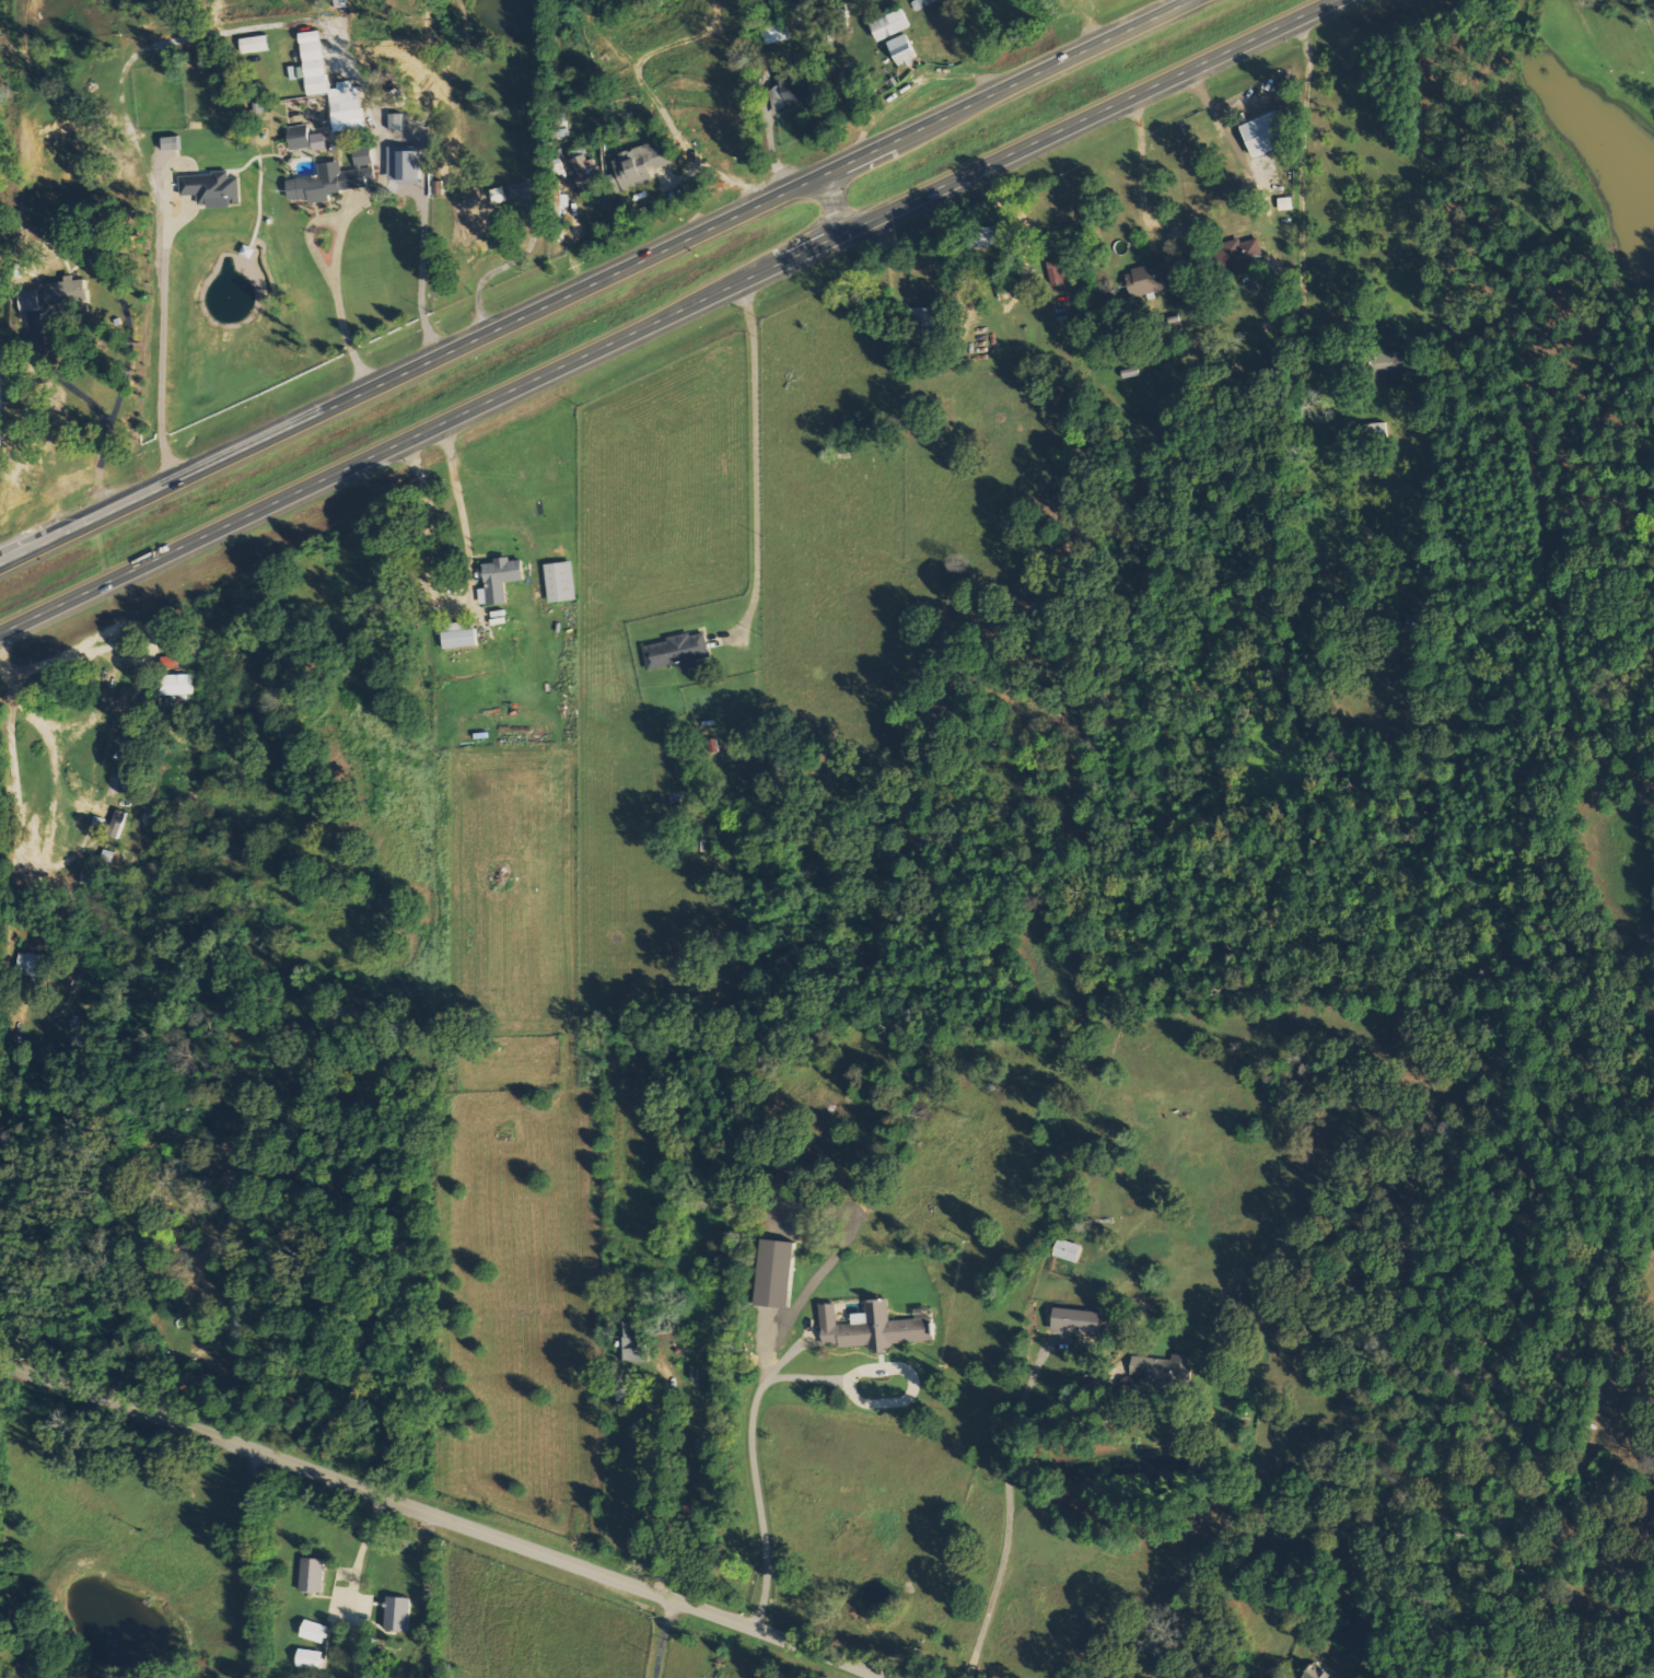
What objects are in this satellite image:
building: (923, 2)
building: (893, 24)
building: (777, 31)
building: (907, 49)
building: (318, 80)
building: (792, 89)
building: (398, 120)
building: (1267, 132)
building: (301, 136)
building: (581, 151)
building: (406, 162)
building: (643, 165)
building: (589, 175)
building: (336, 177)
building: (212, 188)
building: (466, 188)
building: (1288, 202)
road: (836, 203)
building: (484, 217)
building: (998, 234)
building: (1245, 254)
building: (1057, 272)
building: (1150, 280)
road: (594, 281)
building: (44, 295)
building: (925, 315)
road: (667, 316)
building: (1394, 362)
road: (749, 464)
building: (502, 579)
building: (562, 581)
building: (462, 634)
building: (679, 651)
building: (171, 662)
building: (177, 685)
building: (119, 824)
building: (31, 964)
building: (188, 1170)
building: (1071, 1250)
building: (1080, 1320)
building: (234, 1322)
building: (664, 1324)
building: (875, 1328)
building: (634, 1342)
building: (1166, 1370)
road: (1010, 1505)
road: (440, 1518)
building: (313, 1575)
building: (399, 1613)
building: (316, 1631)
building: (311, 1658)
building: (1321, 1673)

